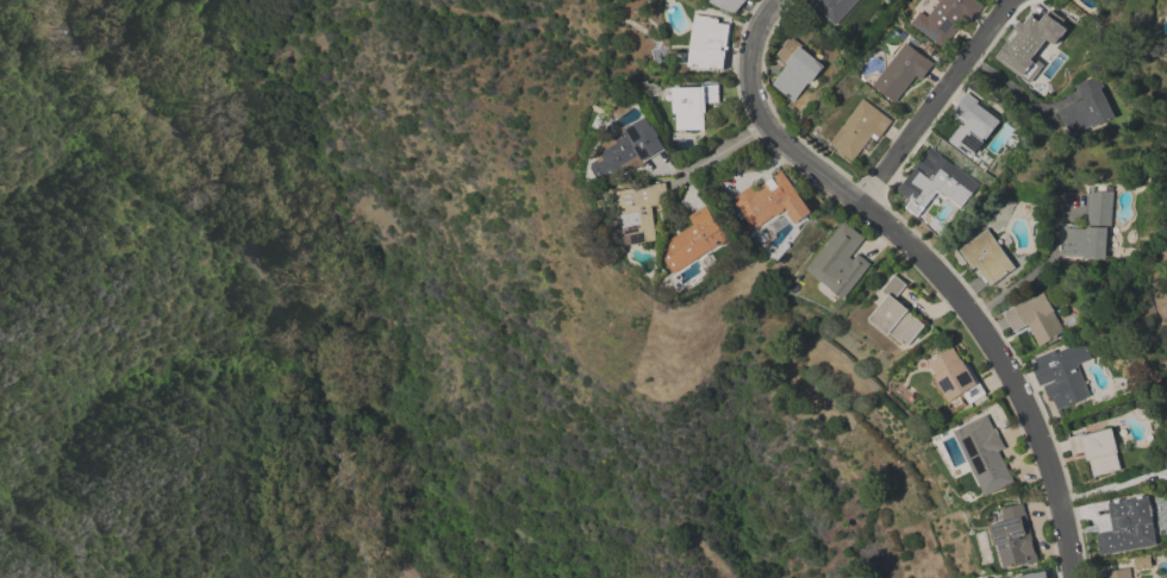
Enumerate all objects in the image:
building: (731, 5)
building: (835, 8)
building: (947, 19)
building: (1042, 45)
building: (711, 46)
building: (797, 69)
building: (901, 73)
building: (1031, 77)
road: (1017, 94)
road: (938, 103)
building: (693, 105)
building: (1090, 108)
building: (973, 125)
building: (861, 131)
building: (629, 150)
road: (723, 152)
building: (938, 182)
building: (772, 202)
building: (643, 212)
building: (1091, 230)
building: (698, 240)
building: (986, 258)
building: (840, 262)
road: (260, 263)
road: (924, 269)
road: (1037, 270)
building: (897, 314)
building: (1036, 319)
building: (1063, 375)
building: (955, 378)
building: (1098, 451)
building: (985, 454)
road: (1115, 486)
building: (1128, 529)
building: (1015, 538)
building: (1116, 574)
building: (1036, 576)

